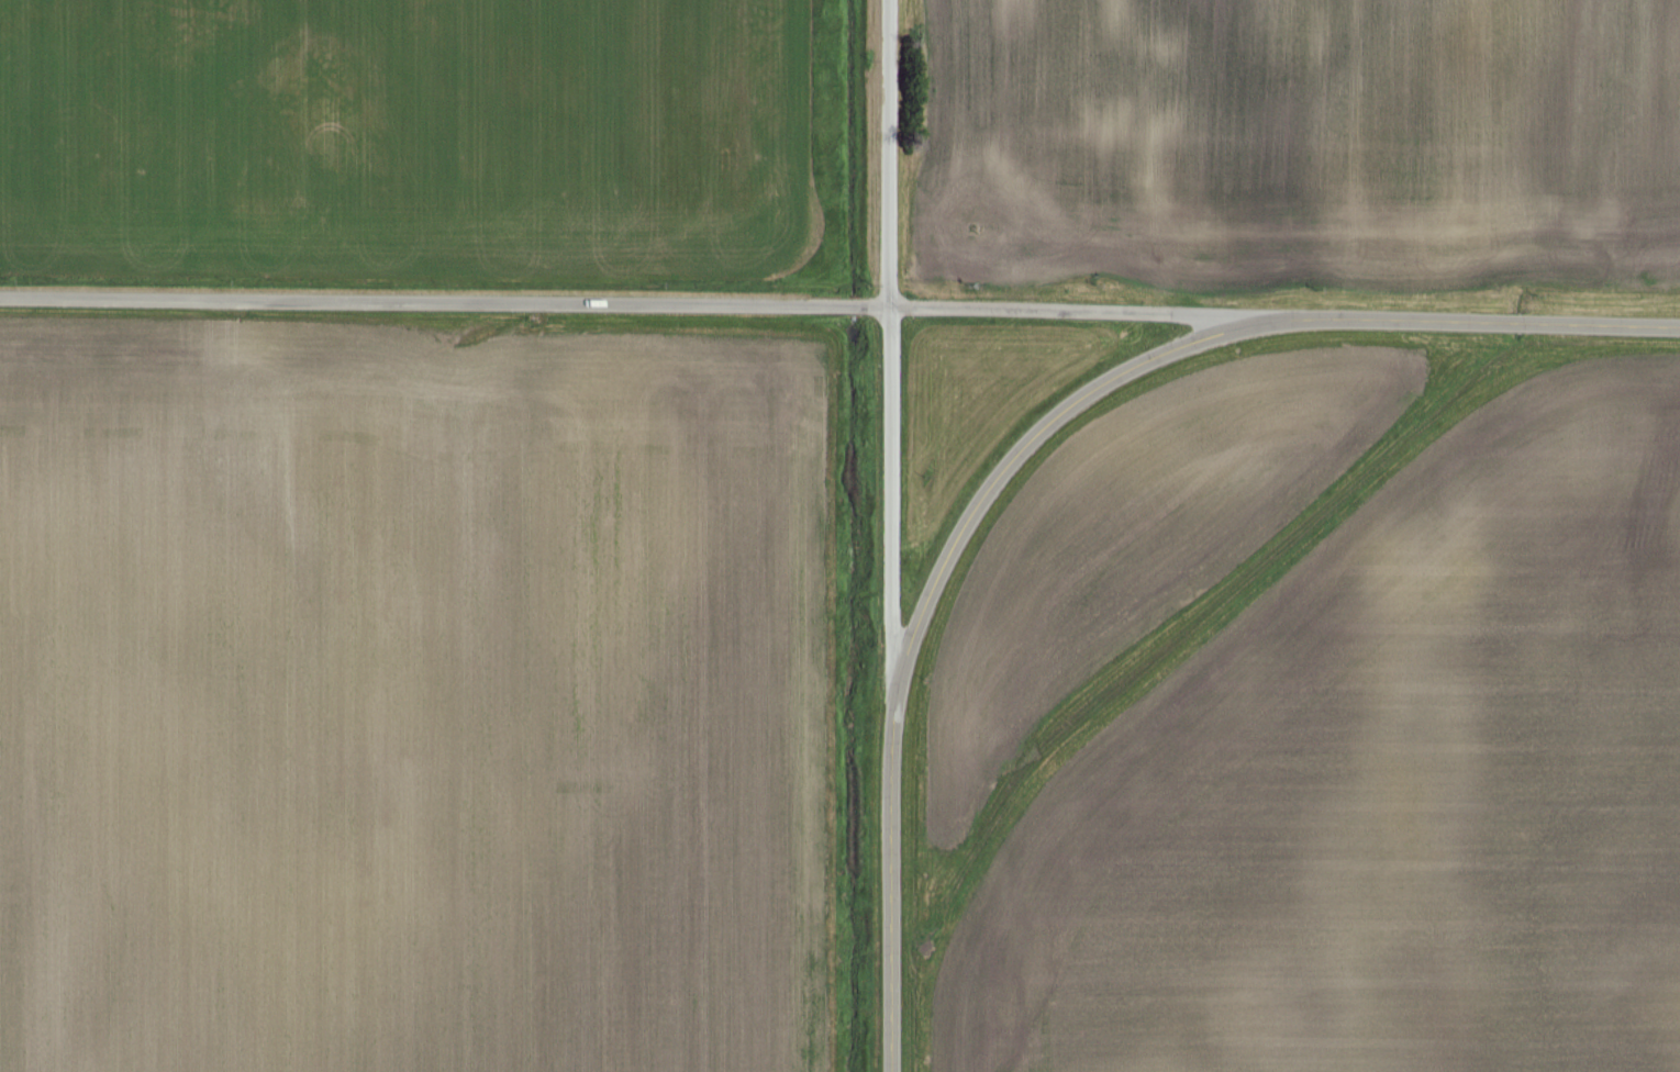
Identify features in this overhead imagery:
road: (888, 155)
road: (623, 306)
road: (1202, 340)
road: (889, 495)
road: (889, 875)

